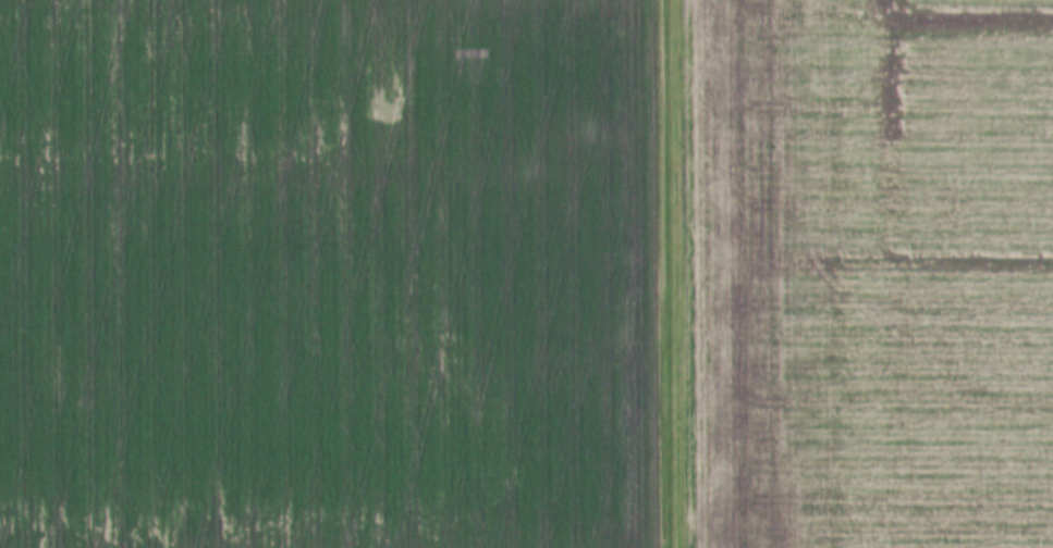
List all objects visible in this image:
crop: (866, 273)
crop: (331, 274)

